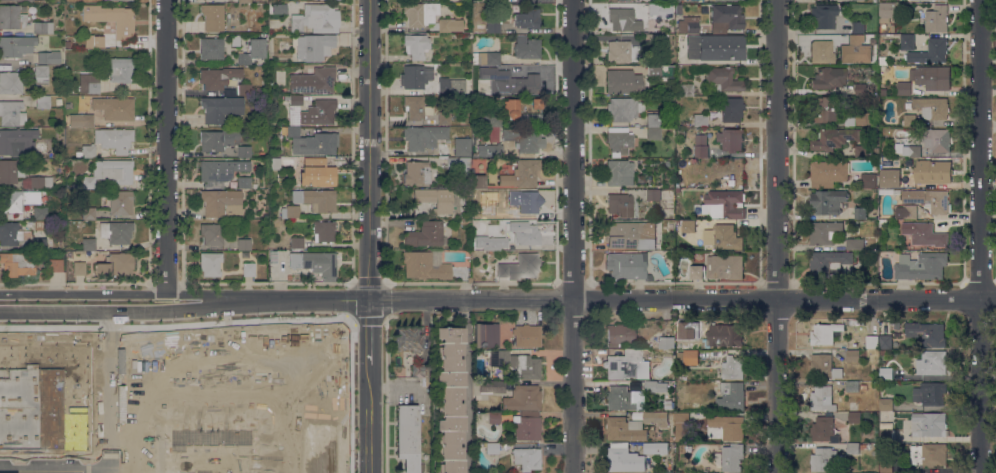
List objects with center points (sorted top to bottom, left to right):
building: (16, 0)
building: (130, 0)
building: (626, 0)
building: (713, 0)
building: (917, 0)
building: (244, 1)
building: (501, 1)
building: (656, 9)
building: (889, 11)
building: (420, 13)
building: (212, 16)
building: (823, 16)
building: (11, 17)
building: (321, 17)
building: (527, 18)
building: (726, 18)
building: (112, 19)
building: (624, 19)
building: (936, 19)
building: (296, 22)
building: (688, 24)
building: (450, 25)
building: (43, 27)
building: (493, 27)
building: (857, 27)
building: (892, 28)
building: (235, 40)
building: (651, 40)
building: (856, 40)
building: (94, 41)
building: (908, 42)
building: (67, 44)
building: (16, 45)
building: (416, 45)
building: (313, 46)
building: (717, 46)
building: (526, 47)
building: (211, 48)
building: (253, 51)
building: (618, 51)
building: (821, 51)
building: (930, 52)
building: (852, 54)
building: (49, 57)
building: (486, 58)
building: (883, 60)
building: (436, 66)
building: (120, 69)
building: (653, 71)
building: (41, 73)
building: (415, 76)
building: (218, 77)
building: (827, 77)
building: (932, 77)
building: (723, 79)
building: (623, 80)
building: (314, 81)
building: (11, 82)
building: (510, 82)
building: (80, 85)
building: (450, 85)
building: (92, 86)
building: (904, 88)
building: (244, 89)
building: (687, 89)
building: (861, 89)
building: (295, 100)
building: (43, 101)
building: (58, 101)
building: (416, 107)
building: (932, 107)
building: (114, 108)
building: (220, 108)
building: (524, 109)
building: (624, 109)
building: (731, 109)
building: (827, 109)
building: (12, 112)
building: (316, 113)
building: (231, 118)
building: (444, 118)
building: (858, 118)
building: (81, 120)
building: (489, 120)
building: (654, 120)
building: (700, 120)
building: (910, 120)
building: (685, 124)
building: (291, 131)
building: (654, 133)
building: (680, 133)
building: (424, 136)
building: (835, 138)
building: (114, 139)
building: (224, 139)
building: (525, 139)
building: (731, 139)
building: (937, 139)
building: (619, 140)
building: (17, 141)
building: (315, 144)
road: (167, 146)
building: (460, 146)
building: (701, 146)
building: (443, 149)
building: (495, 150)
building: (908, 150)
building: (87, 151)
building: (244, 151)
building: (861, 151)
building: (275, 163)
building: (668, 163)
building: (460, 165)
building: (221, 169)
building: (10, 171)
building: (317, 172)
building: (417, 172)
building: (933, 172)
building: (107, 173)
building: (522, 173)
building: (619, 173)
building: (828, 173)
building: (891, 178)
building: (868, 180)
building: (478, 181)
building: (37, 182)
building: (244, 182)
building: (254, 185)
building: (653, 193)
building: (316, 199)
building: (436, 199)
building: (513, 199)
building: (929, 199)
building: (529, 201)
building: (828, 201)
building: (17, 202)
building: (221, 202)
building: (121, 203)
building: (620, 204)
building: (720, 204)
building: (290, 211)
building: (906, 212)
building: (40, 213)
building: (88, 213)
building: (498, 213)
building: (860, 213)
building: (679, 222)
building: (688, 226)
building: (272, 228)
building: (116, 231)
building: (324, 231)
building: (824, 232)
building: (10, 233)
building: (212, 233)
building: (524, 233)
building: (425, 234)
building: (925, 234)
building: (630, 235)
road: (369, 236)
road: (576, 236)
road: (779, 236)
road: (981, 236)
building: (723, 237)
building: (296, 242)
building: (39, 244)
building: (88, 244)
building: (243, 244)
building: (493, 244)
building: (854, 244)
building: (490, 253)
building: (829, 261)
building: (210, 263)
building: (315, 263)
building: (859, 263)
building: (19, 265)
building: (55, 265)
building: (115, 265)
building: (426, 265)
building: (627, 266)
building: (725, 266)
building: (921, 266)
building: (519, 267)
building: (78, 268)
building: (248, 269)
building: (696, 272)
building: (262, 275)
road: (154, 292)
road: (339, 300)
road: (682, 302)
road: (154, 312)
building: (682, 332)
building: (824, 333)
building: (927, 334)
building: (619, 335)
building: (486, 336)
building: (527, 336)
building: (723, 336)
building: (408, 339)
building: (872, 341)
building: (665, 342)
building: (885, 342)
building: (862, 352)
building: (655, 355)
building: (852, 355)
building: (691, 356)
building: (931, 363)
building: (517, 364)
building: (627, 365)
building: (824, 367)
building: (733, 368)
building: (420, 372)
building: (885, 373)
building: (655, 386)
building: (852, 386)
building: (873, 386)
road: (394, 387)
building: (491, 387)
building: (863, 387)
road: (106, 389)
building: (929, 393)
building: (45, 395)
building: (625, 396)
building: (731, 396)
building: (523, 398)
building: (822, 398)
building: (450, 399)
building: (233, 401)
building: (886, 404)
building: (637, 415)
building: (493, 417)
building: (854, 417)
building: (656, 418)
building: (929, 424)
building: (527, 426)
building: (682, 426)
building: (728, 426)
building: (904, 427)
building: (625, 429)
building: (824, 430)
building: (886, 432)
building: (407, 436)
building: (492, 448)
building: (655, 448)
building: (853, 448)
building: (928, 454)
building: (730, 457)
building: (527, 458)
building: (623, 458)
building: (825, 460)
building: (885, 464)
road: (53, 466)
road: (236, 467)
building: (653, 472)

